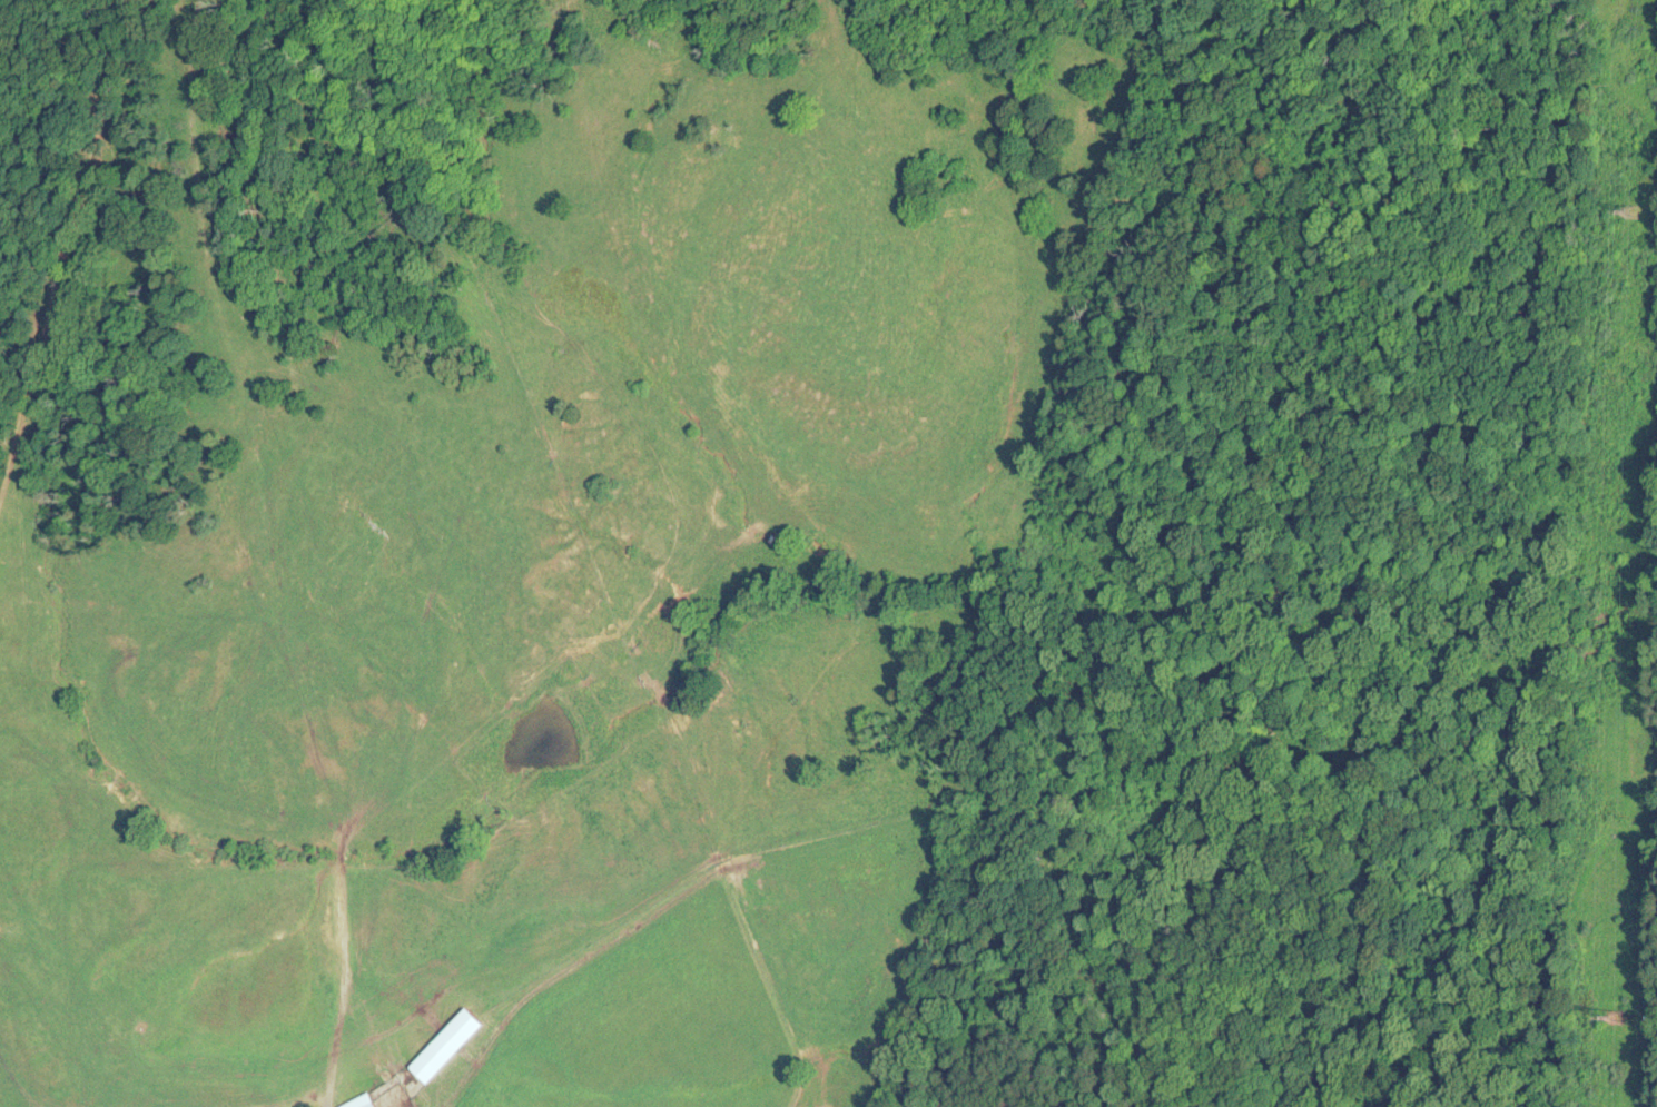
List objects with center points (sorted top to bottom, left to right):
power tower: (1631, 206)
power tower: (1616, 1010)
road: (305, 1095)
building: (362, 1101)

